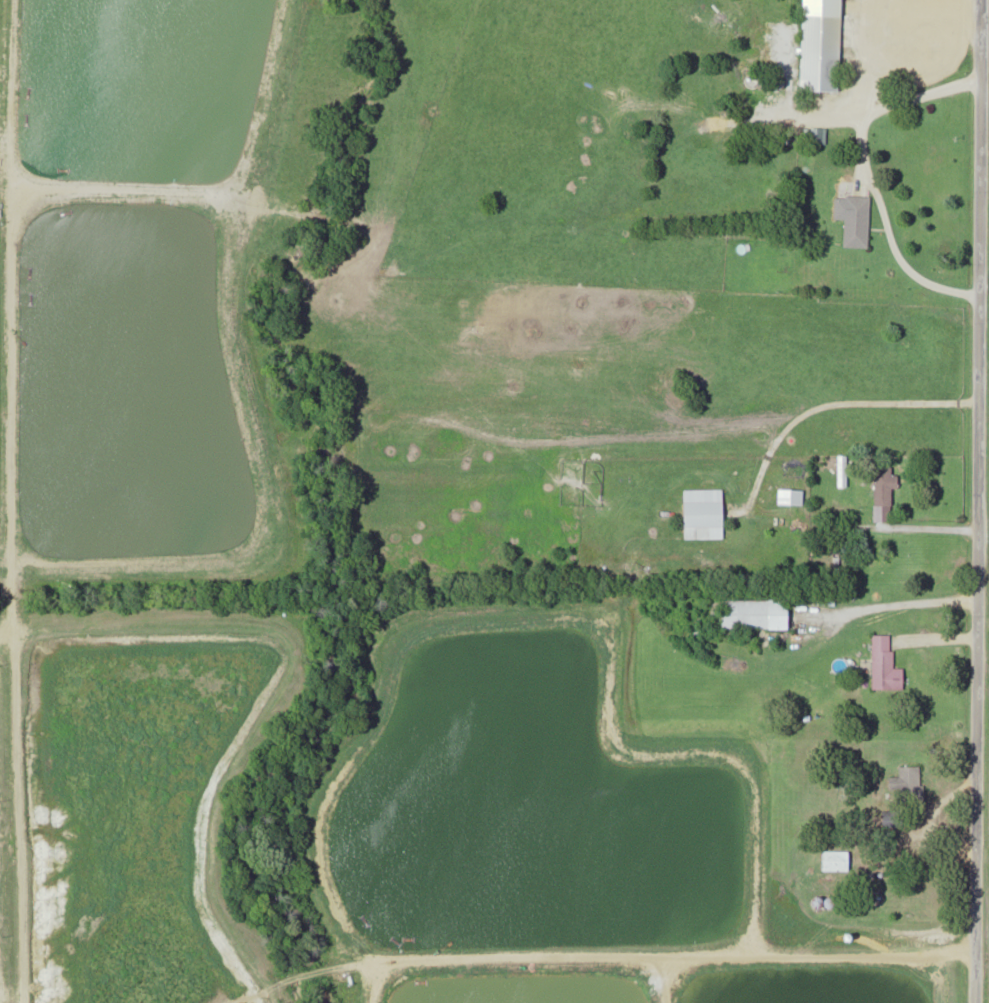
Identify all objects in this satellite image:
building: (774, 45)
building: (823, 45)
building: (858, 221)
building: (906, 327)
building: (845, 470)
building: (886, 484)
road: (980, 501)
building: (706, 513)
building: (757, 614)
building: (886, 663)
building: (836, 859)

